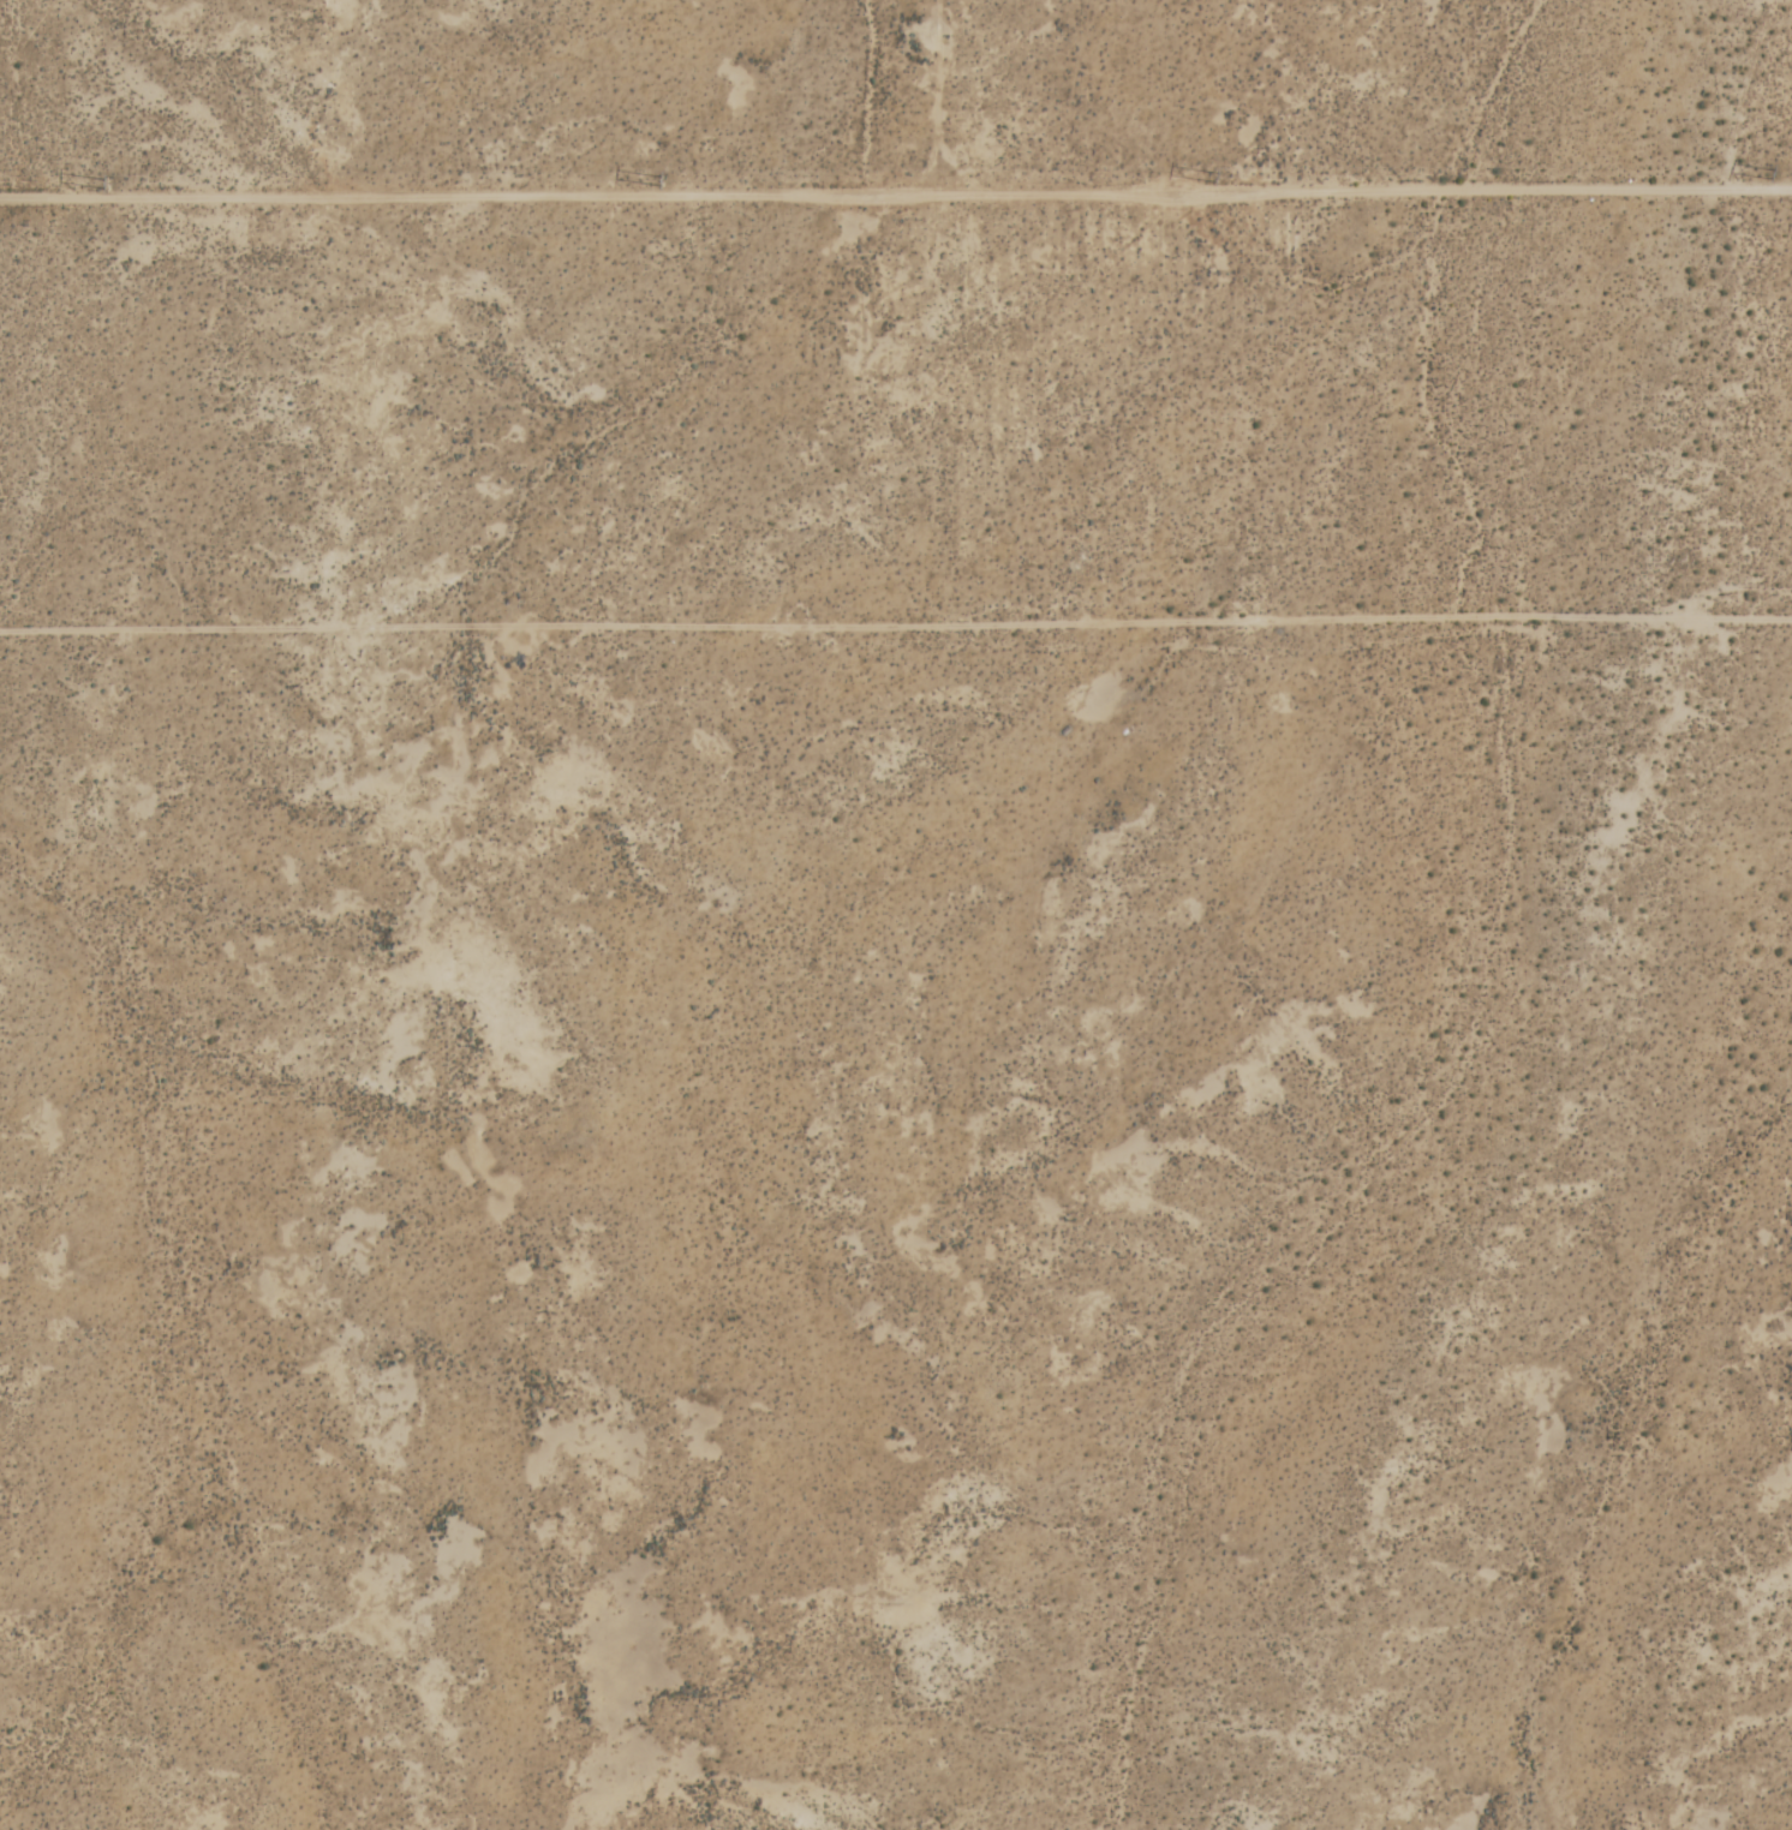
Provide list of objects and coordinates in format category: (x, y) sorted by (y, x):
power tower: (1772, 174)
power tower: (1215, 177)
power tower: (661, 181)
power tower: (106, 186)
road: (896, 197)
road: (896, 622)

